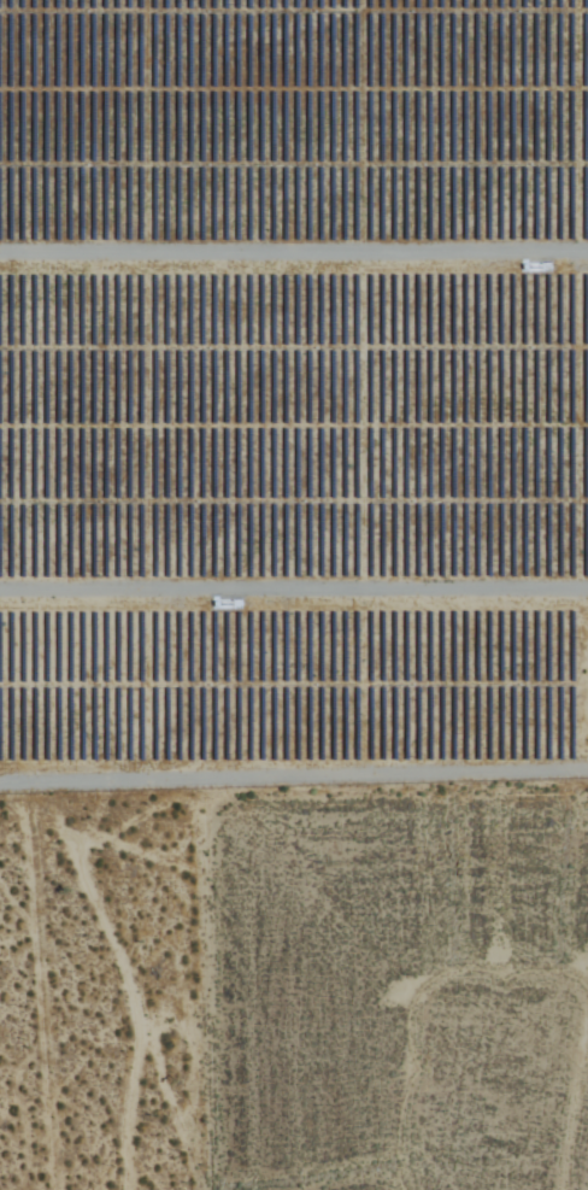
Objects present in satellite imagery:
solar farm: (293, 388)

